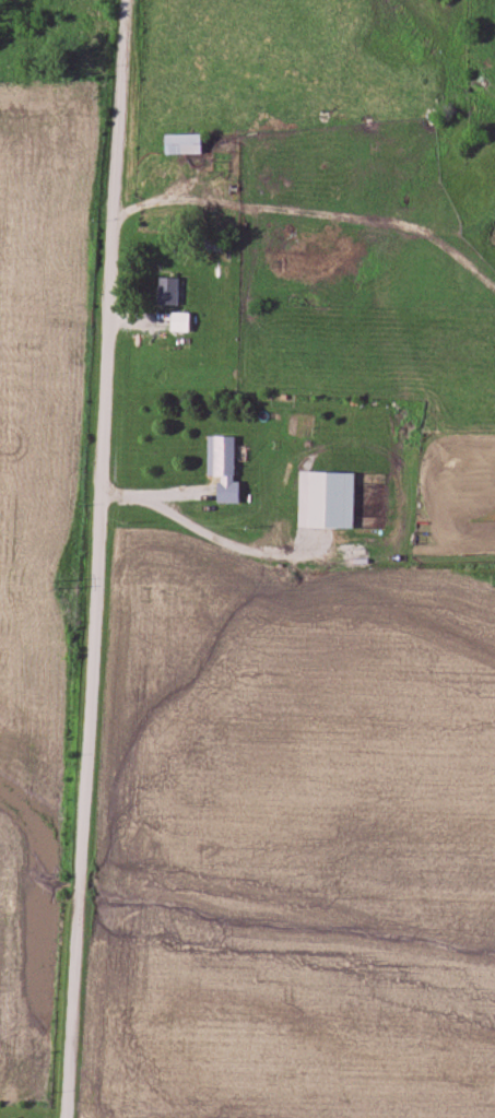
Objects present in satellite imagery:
building: (184, 143)
building: (167, 291)
building: (179, 322)
building: (225, 471)
building: (345, 501)
road: (97, 558)
power tower: (62, 584)

